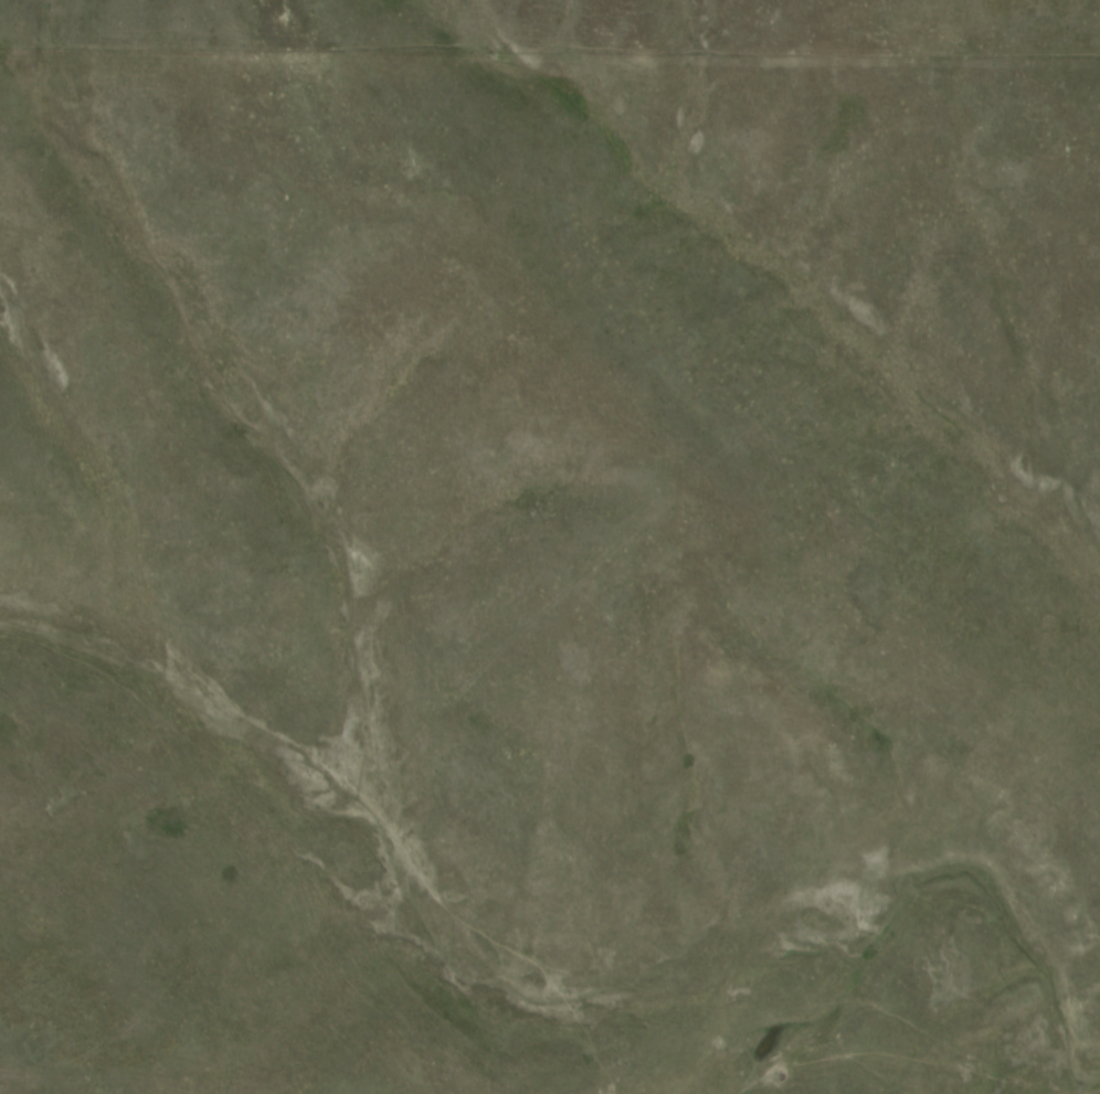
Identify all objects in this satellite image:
road: (913, 1091)

